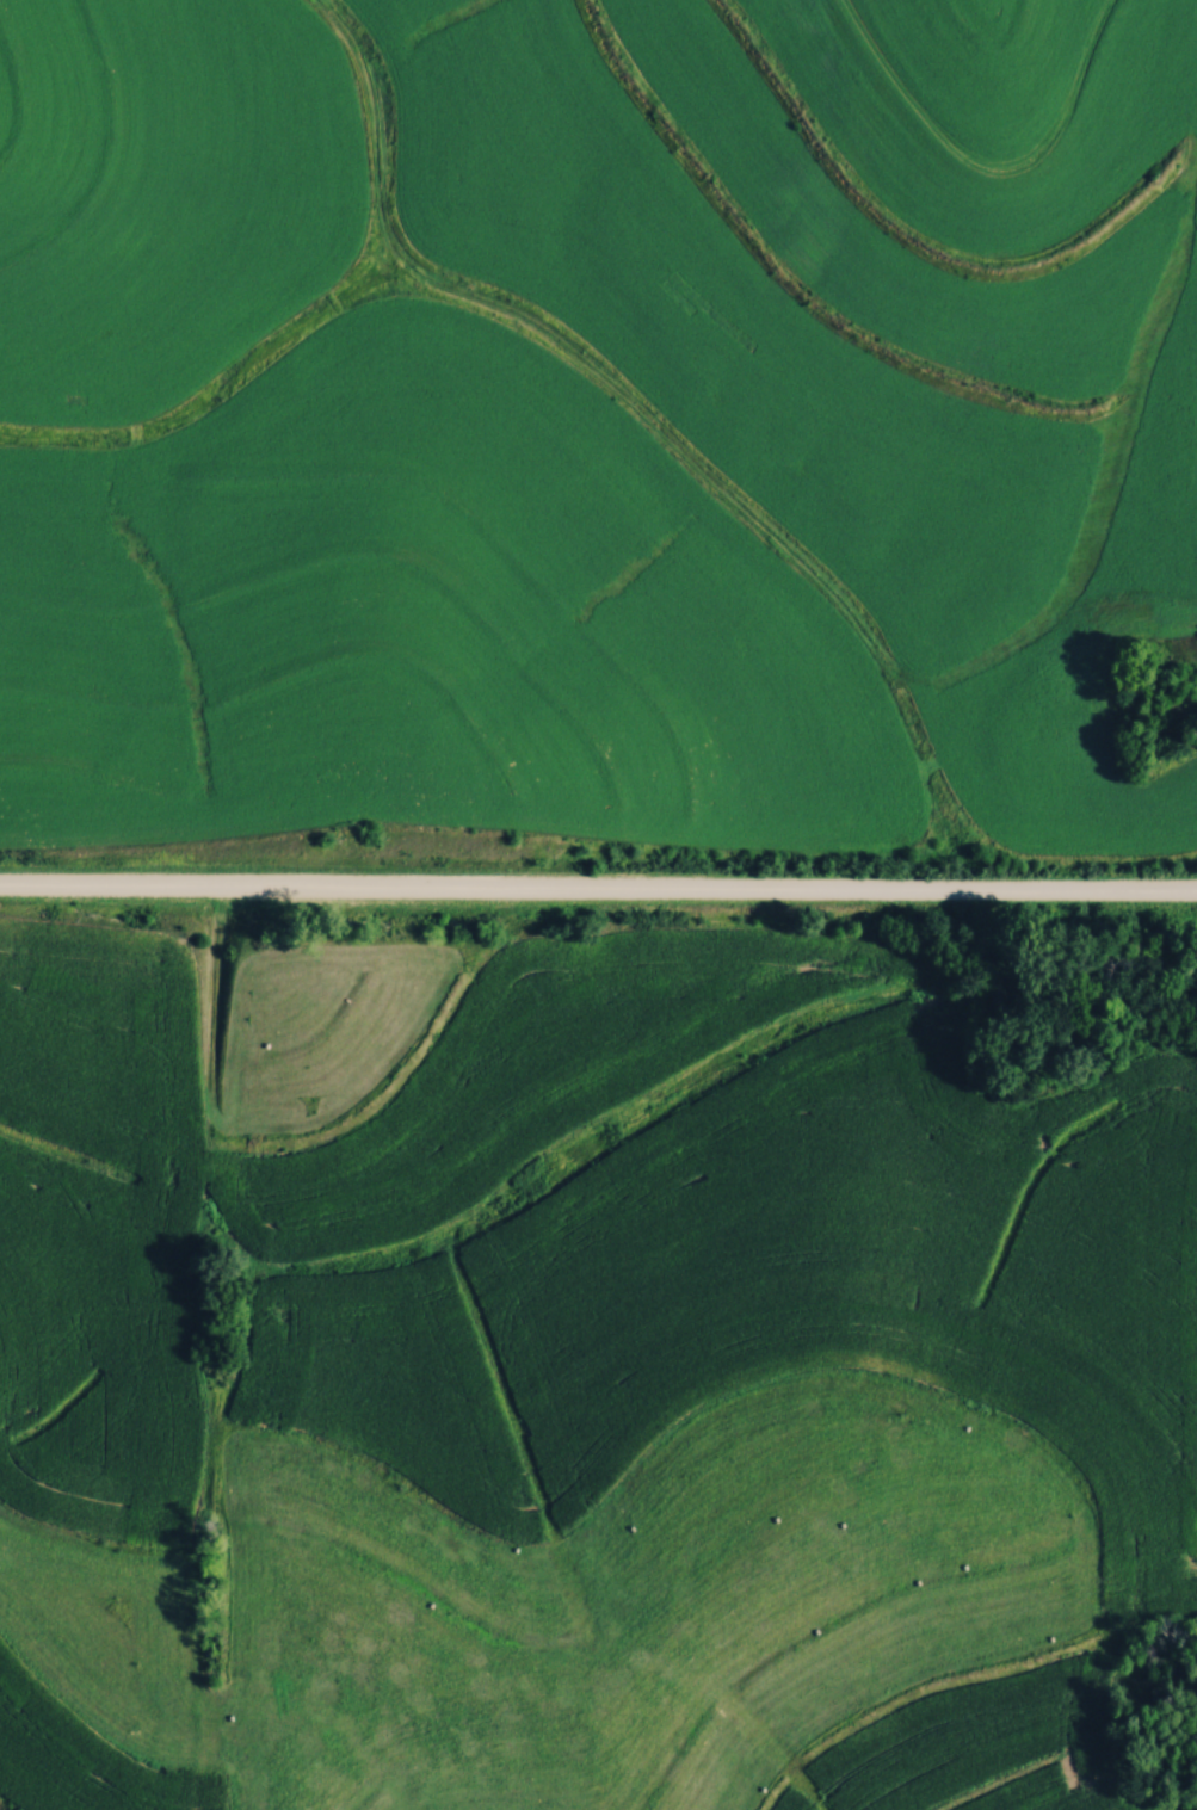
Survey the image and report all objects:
road: (598, 883)

